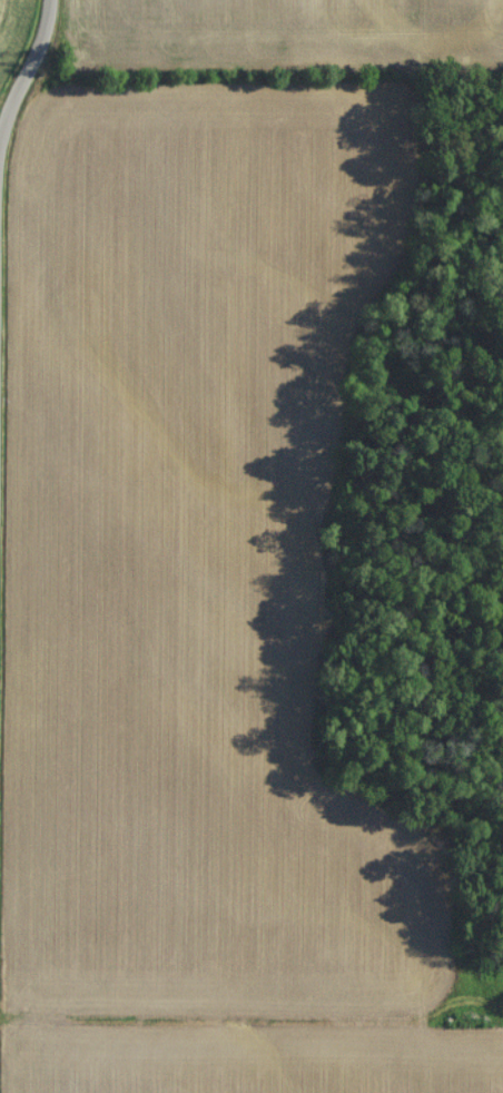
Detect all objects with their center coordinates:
road: (16, 101)

